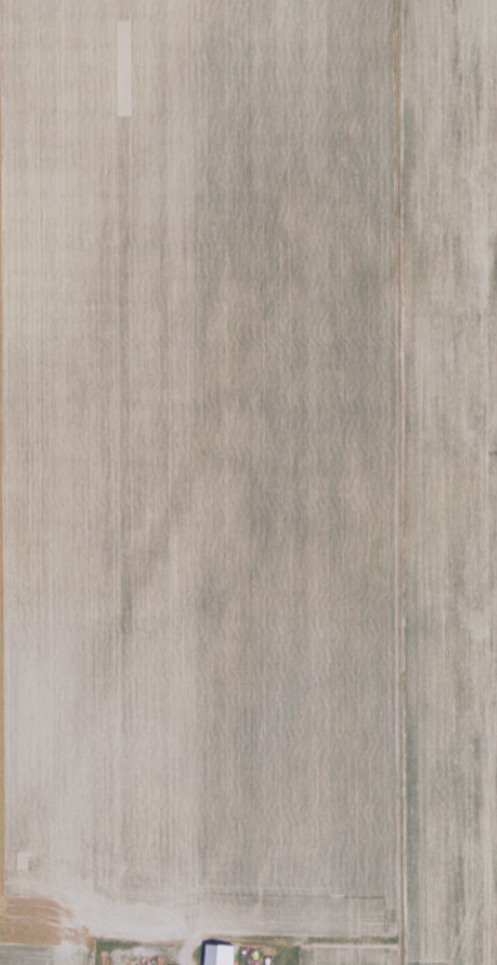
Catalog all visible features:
building: (226, 954)

